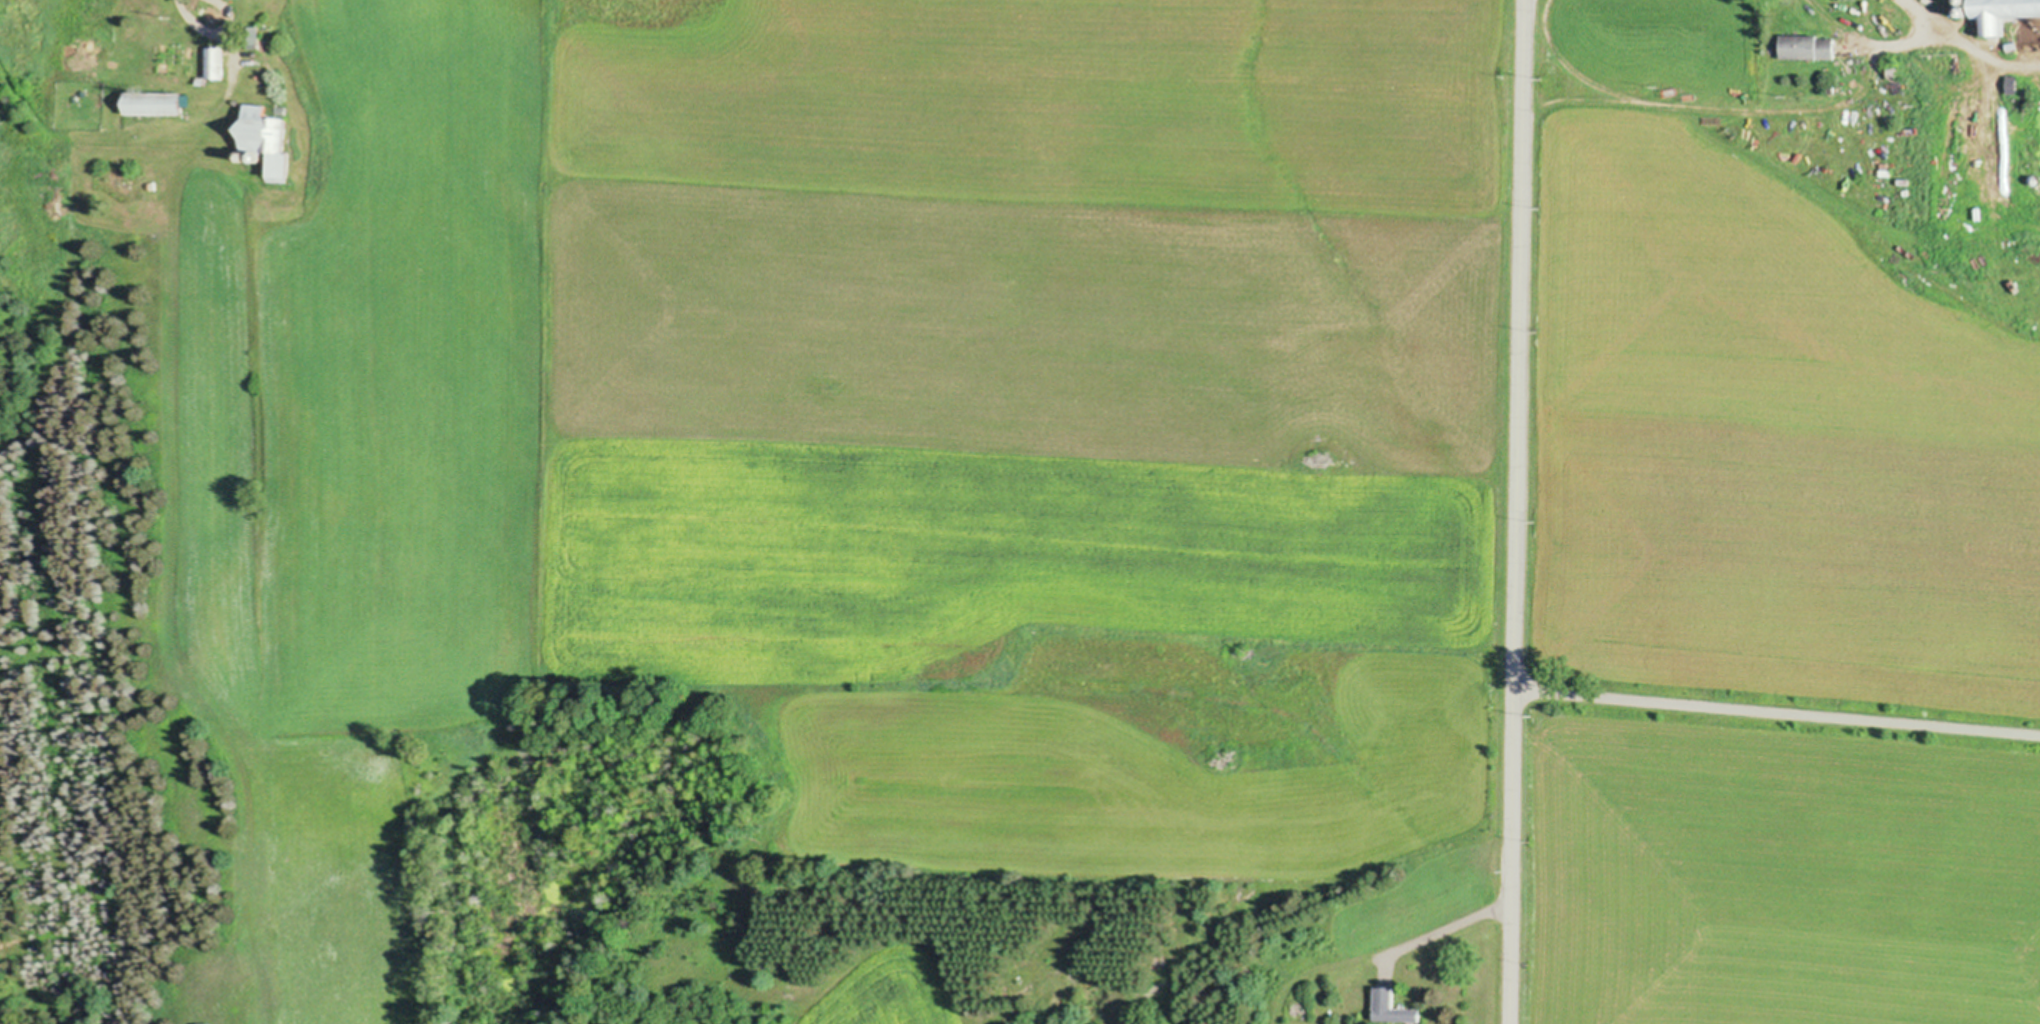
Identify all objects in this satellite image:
road: (1918, 17)
road: (213, 35)
road: (1515, 512)
road: (1776, 714)
road: (1446, 931)

